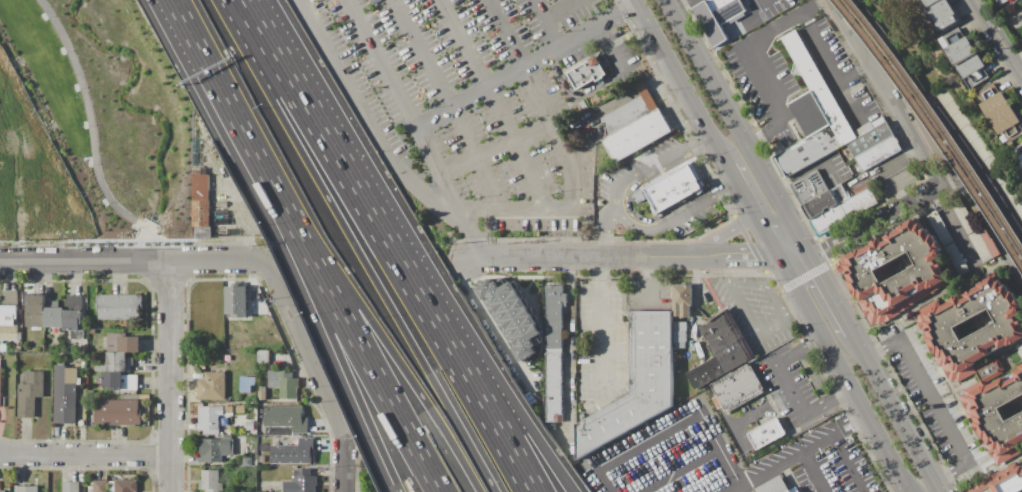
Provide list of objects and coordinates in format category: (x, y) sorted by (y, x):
road: (759, 0)
building: (1016, 0)
building: (1001, 2)
road: (679, 3)
road: (762, 7)
road: (562, 11)
building: (942, 13)
street lamp: (43, 18)
building: (718, 18)
road: (547, 25)
road: (770, 33)
road: (998, 36)
park: (906, 41)
road: (607, 51)
street lamp: (62, 53)
building: (966, 57)
road: (529, 67)
road: (854, 67)
building: (587, 73)
road: (526, 77)
road: (682, 83)
road: (295, 87)
street lamp: (75, 90)
road: (891, 92)
road: (575, 96)
road: (496, 102)
parking lot: (479, 103)
road: (448, 104)
building: (583, 105)
building: (997, 109)
building: (813, 114)
railway: (933, 123)
crop: (78, 125)
building: (635, 125)
street lamp: (85, 127)
building: (869, 127)
road: (741, 129)
road: (419, 130)
railway: (927, 131)
road: (92, 136)
road: (942, 138)
building: (870, 140)
road: (495, 146)
road: (251, 149)
building: (1021, 149)
building: (878, 154)
building: (1020, 159)
street lamp: (88, 164)
road: (654, 164)
road: (805, 170)
road: (976, 175)
road: (956, 177)
road: (420, 182)
building: (810, 187)
building: (674, 189)
road: (904, 189)
building: (639, 198)
street lamp: (103, 202)
building: (826, 202)
building: (859, 202)
building: (201, 204)
road: (371, 212)
road: (755, 212)
building: (222, 217)
building: (963, 217)
road: (675, 219)
building: (829, 220)
road: (878, 223)
street lamp: (134, 229)
building: (940, 229)
road: (603, 231)
road: (725, 235)
building: (983, 245)
road: (584, 259)
road: (737, 259)
road: (797, 259)
building: (957, 259)
road: (134, 262)
building: (926, 272)
road: (644, 281)
road: (765, 284)
road: (833, 296)
road: (934, 297)
building: (682, 300)
building: (236, 301)
building: (119, 307)
building: (9, 308)
road: (743, 310)
building: (35, 312)
road: (797, 314)
building: (54, 315)
building: (75, 316)
building: (510, 317)
building: (1003, 329)
road: (597, 330)
building: (92, 331)
road: (416, 335)
building: (120, 344)
building: (3, 348)
building: (720, 350)
building: (554, 353)
road: (569, 355)
building: (264, 357)
building: (116, 363)
road: (487, 369)
road: (466, 370)
road: (316, 374)
road: (846, 375)
road: (174, 377)
building: (638, 381)
building: (120, 382)
building: (284, 384)
building: (0, 385)
road: (414, 385)
building: (212, 386)
building: (738, 388)
road: (789, 389)
building: (30, 394)
building: (65, 394)
building: (262, 394)
road: (382, 395)
road: (358, 400)
road: (934, 401)
building: (717, 403)
building: (994, 412)
building: (117, 413)
road: (898, 413)
building: (286, 418)
building: (210, 419)
building: (250, 426)
building: (767, 433)
road: (717, 436)
building: (216, 449)
road: (629, 452)
building: (293, 453)
road: (801, 453)
road: (87, 460)
road: (849, 463)
road: (684, 469)
road: (815, 472)
building: (211, 481)
building: (302, 482)
building: (1004, 482)
building: (100, 485)
building: (71, 486)
building: (124, 486)
building: (776, 486)
building: (24, 489)
building: (2, 491)

